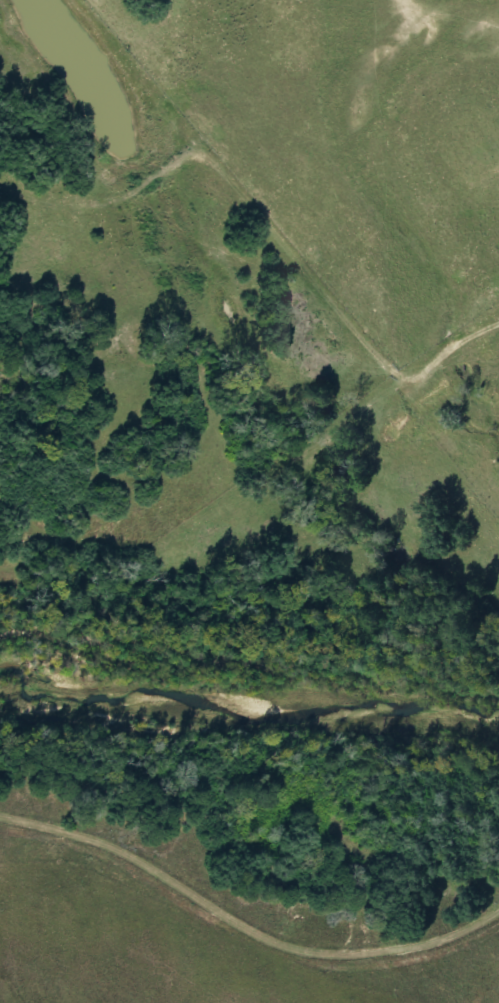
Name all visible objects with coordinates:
river: (250, 694)
road: (242, 925)

